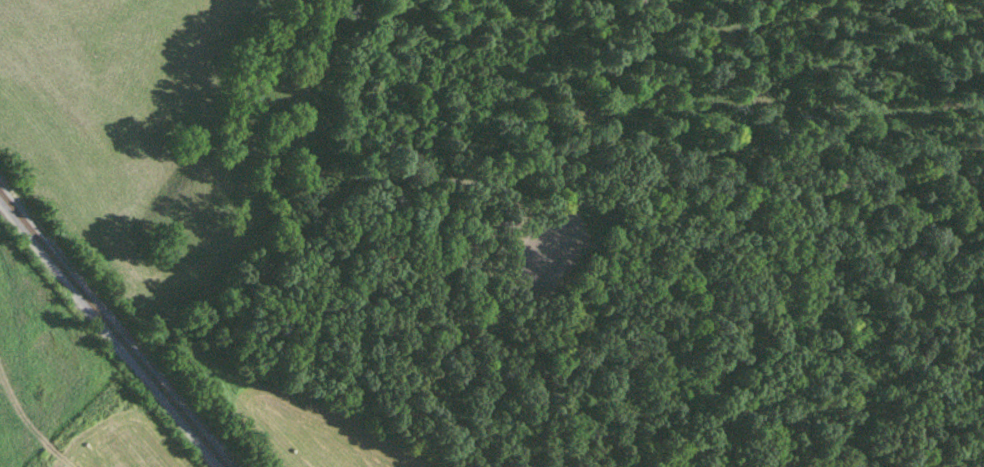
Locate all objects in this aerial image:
railway: (111, 331)

